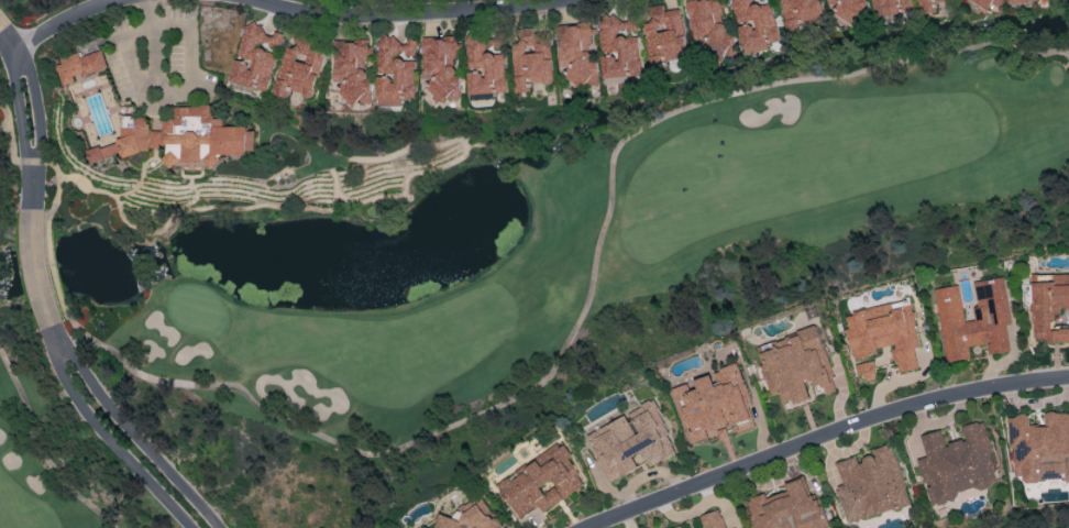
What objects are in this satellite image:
building: (1015, 1)
building: (982, 2)
building: (926, 5)
building: (890, 7)
building: (846, 9)
road: (64, 19)
road: (419, 24)
building: (753, 24)
road: (170, 26)
building: (708, 26)
road: (8, 34)
building: (663, 36)
road: (150, 41)
road: (7, 45)
building: (617, 47)
building: (575, 54)
building: (254, 57)
building: (530, 59)
building: (484, 64)
building: (79, 65)
building: (439, 66)
building: (298, 69)
building: (350, 69)
building: (394, 70)
road: (152, 82)
road: (10, 131)
building: (180, 137)
road: (33, 163)
road: (111, 195)
road: (196, 197)
road: (354, 202)
building: (1050, 306)
road: (49, 313)
building: (991, 313)
building: (883, 333)
building: (796, 366)
road: (551, 370)
building: (864, 370)
building: (714, 405)
road: (815, 433)
building: (631, 441)
building: (1039, 448)
building: (957, 463)
building: (541, 483)
building: (871, 484)
building: (787, 508)
building: (471, 518)
building: (712, 519)
building: (426, 527)
building: (679, 527)

